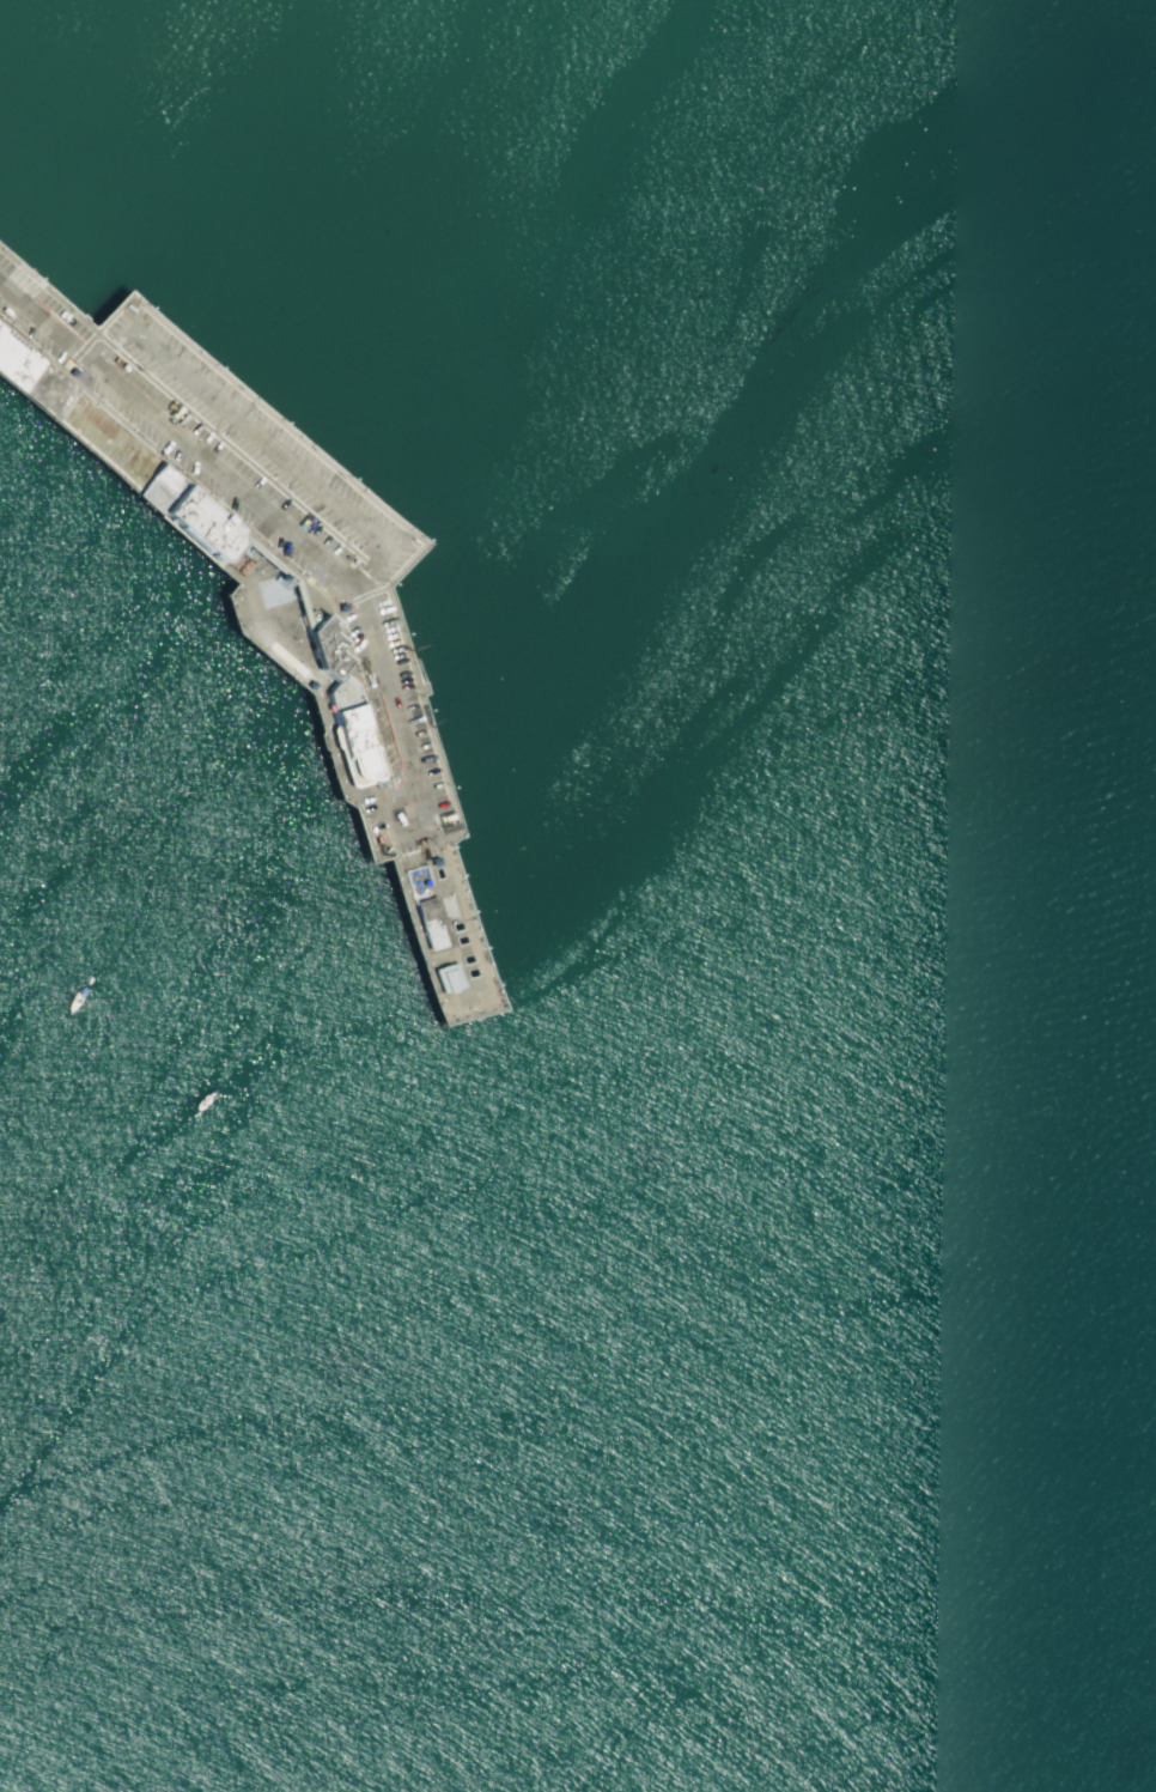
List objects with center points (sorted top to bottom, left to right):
pier: (25, 267)
road: (37, 279)
road: (79, 353)
building: (30, 376)
road: (182, 405)
road: (261, 438)
street lamp: (153, 447)
road: (262, 502)
parking lot: (261, 512)
building: (189, 514)
road: (241, 535)
road: (253, 547)
road: (288, 565)
road: (286, 570)
pier: (272, 575)
road: (287, 575)
road: (291, 581)
road: (390, 583)
building: (276, 595)
road: (361, 596)
building: (324, 648)
park: (287, 657)
building: (353, 730)
road: (403, 830)
road: (421, 856)
building: (431, 923)
road: (420, 935)
building: (448, 978)

